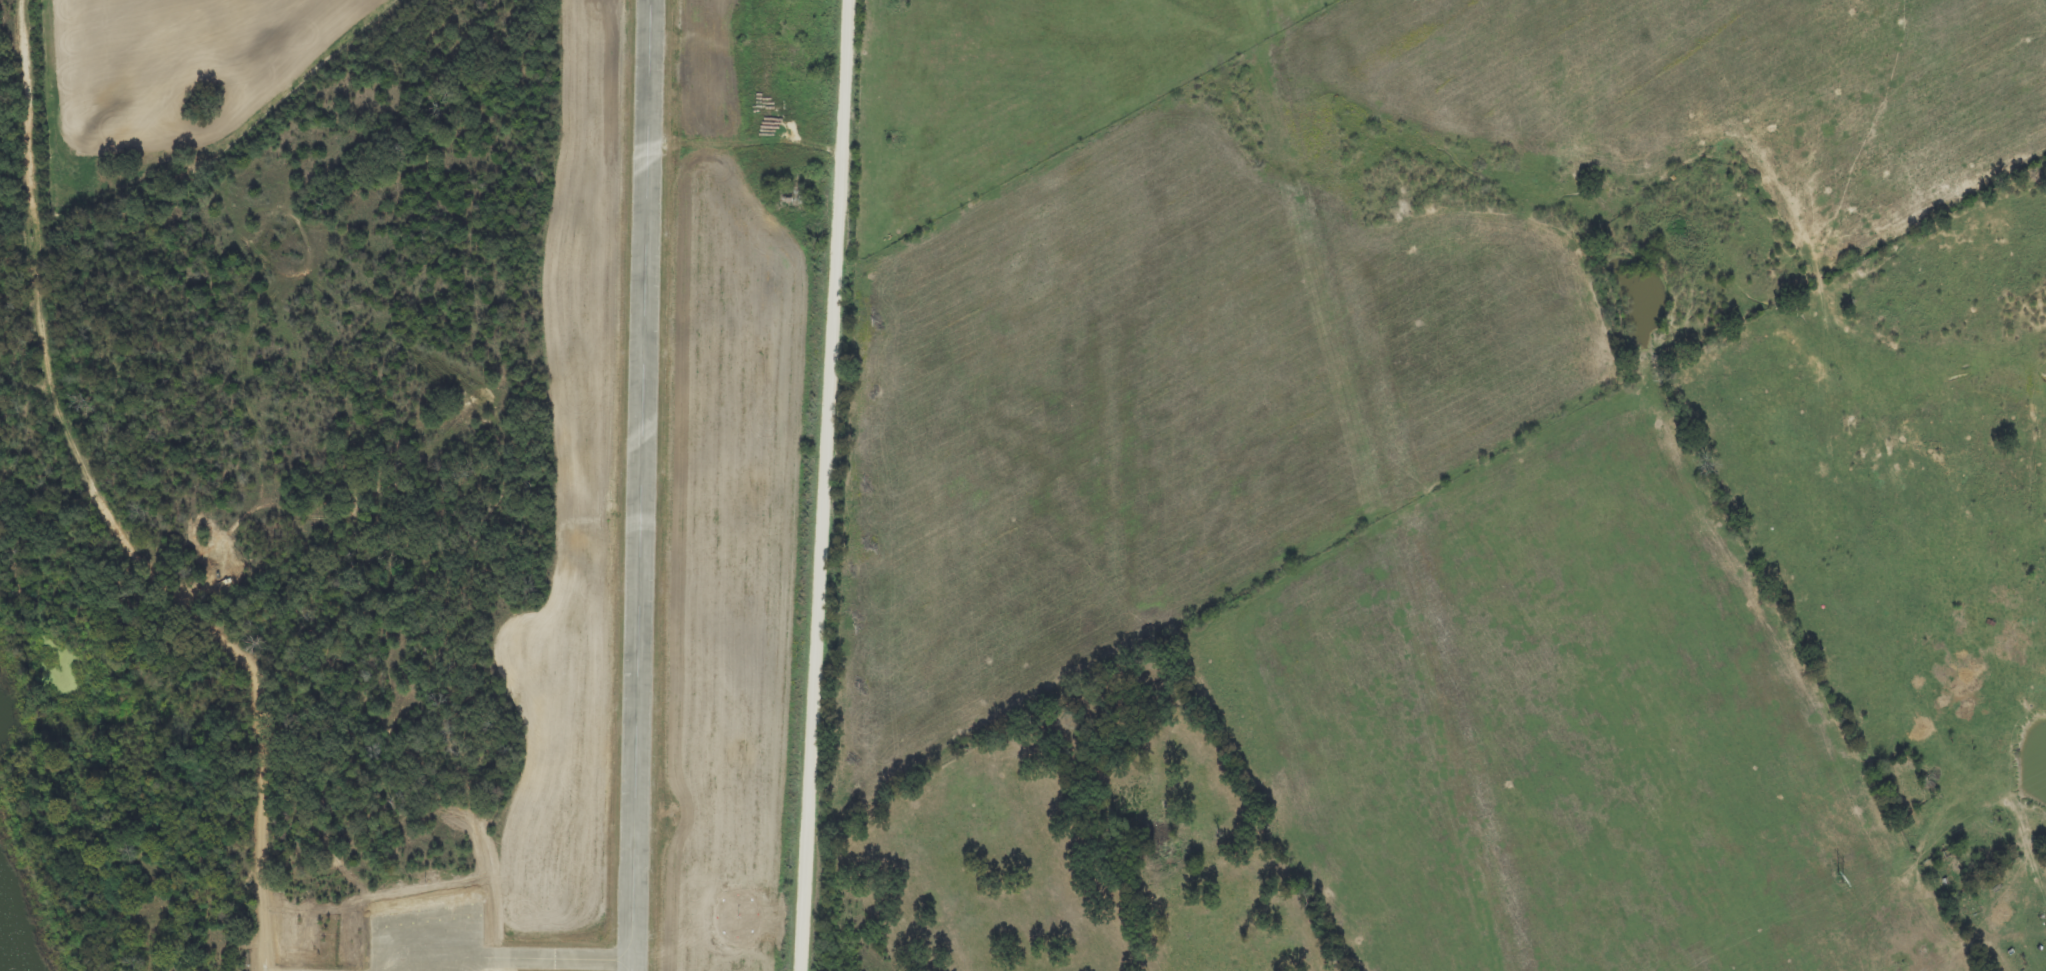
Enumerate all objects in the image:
airport runway: (641, 485)
road: (832, 485)
road: (96, 490)
power tower: (1838, 880)
road: (266, 951)
airport taxiway: (560, 960)

